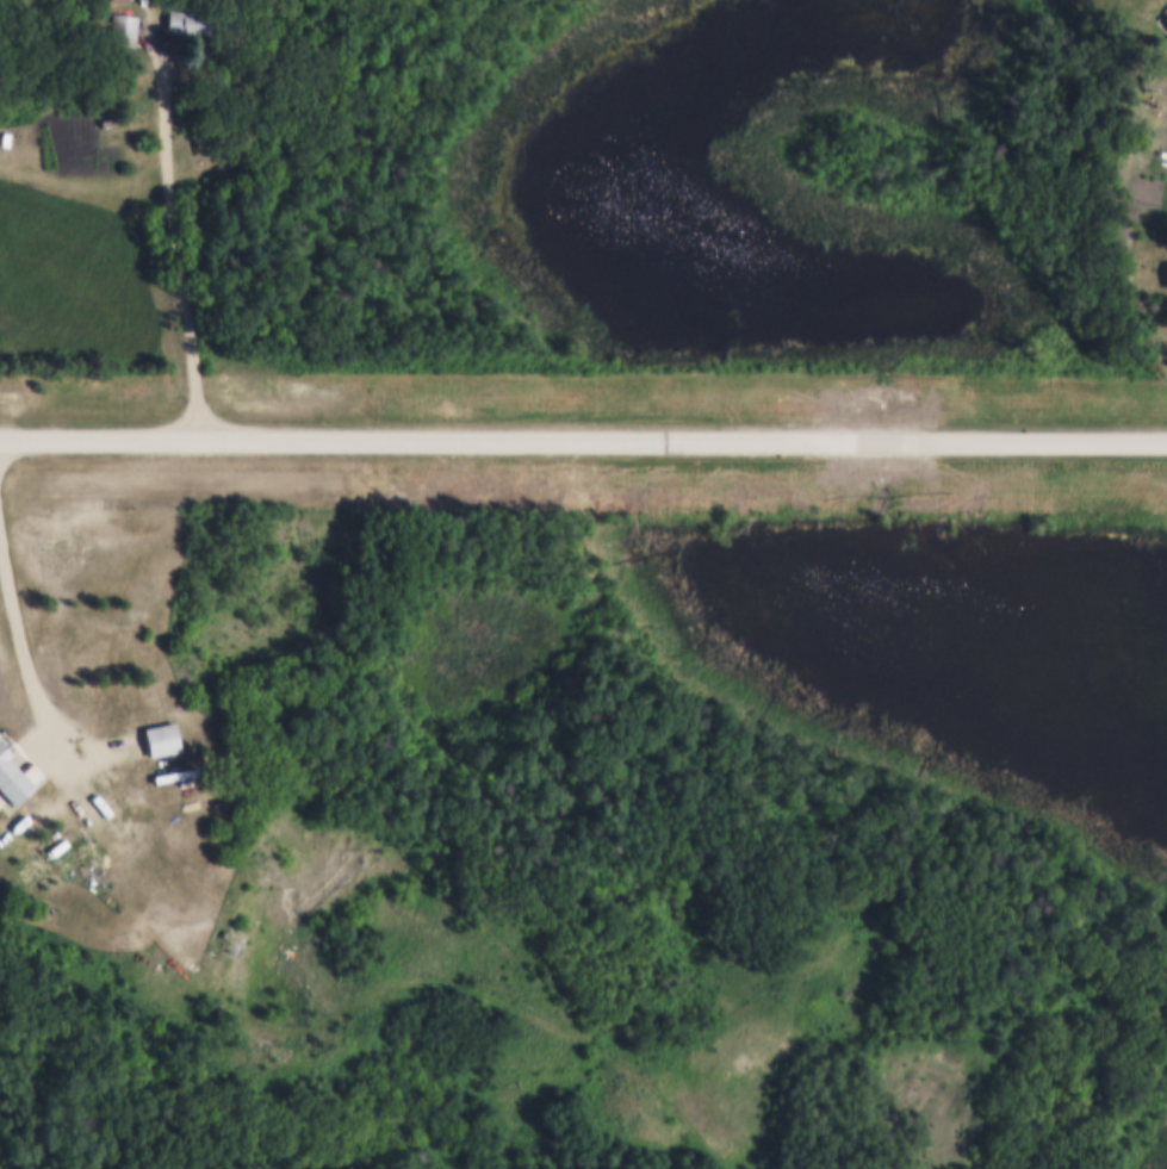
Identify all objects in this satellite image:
building: (123, 0)
building: (1165, 15)
building: (185, 19)
building: (1165, 20)
building: (120, 27)
road: (161, 35)
building: (106, 120)
building: (1156, 124)
road: (179, 250)
building: (1166, 272)
road: (583, 440)
road: (21, 648)
building: (157, 735)
building: (172, 772)
building: (12, 777)
building: (32, 813)
building: (149, 834)
building: (55, 845)
building: (134, 845)
building: (169, 875)
road: (290, 927)
road: (359, 1001)

